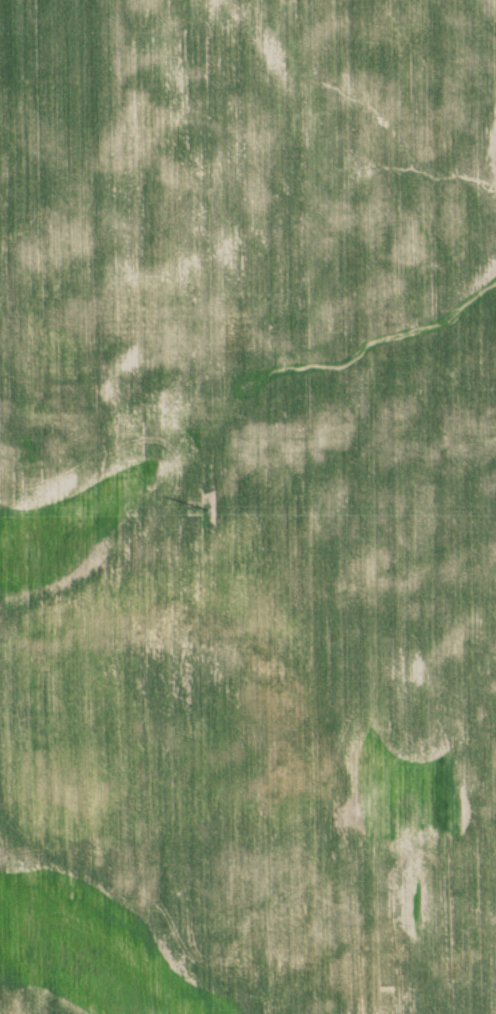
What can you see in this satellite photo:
power tower: (208, 507)

